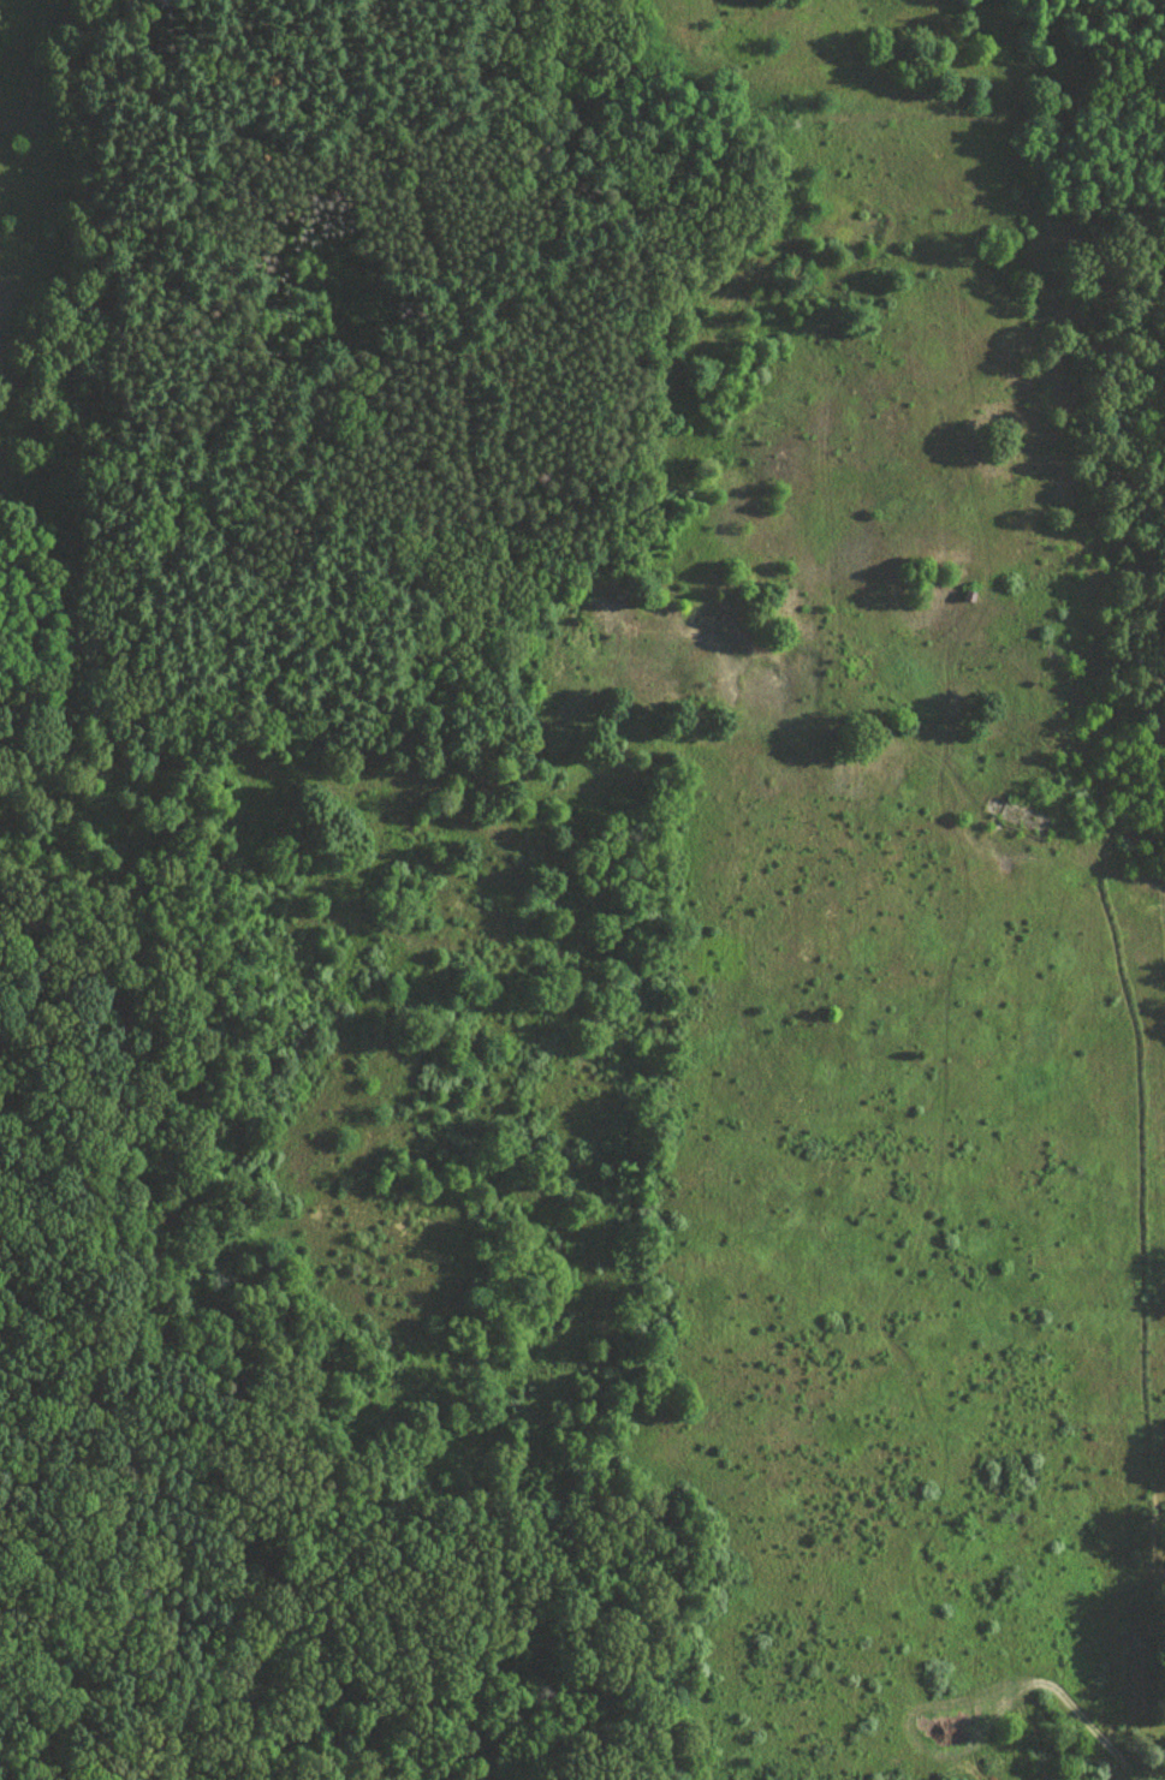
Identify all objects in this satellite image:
road: (292, 433)

